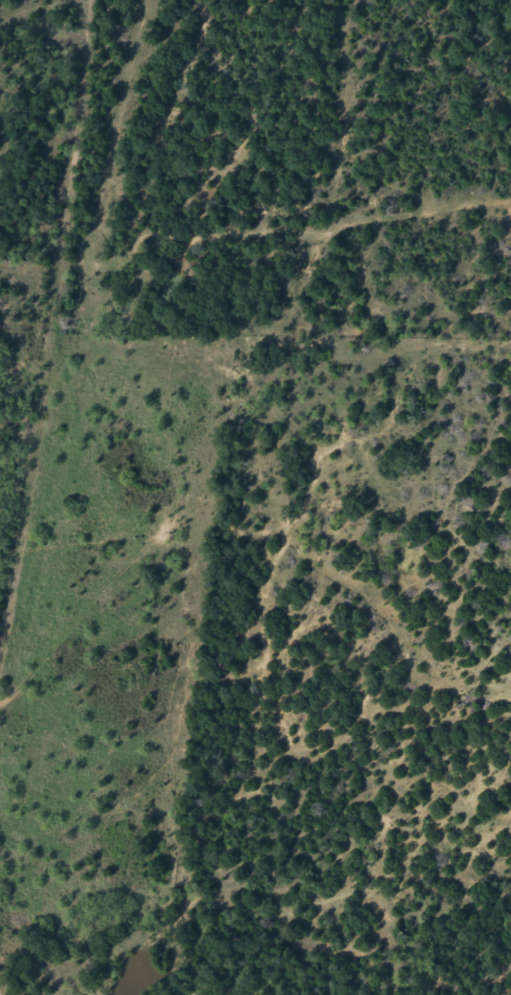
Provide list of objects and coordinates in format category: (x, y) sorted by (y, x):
road: (59, 366)
road: (4, 983)

